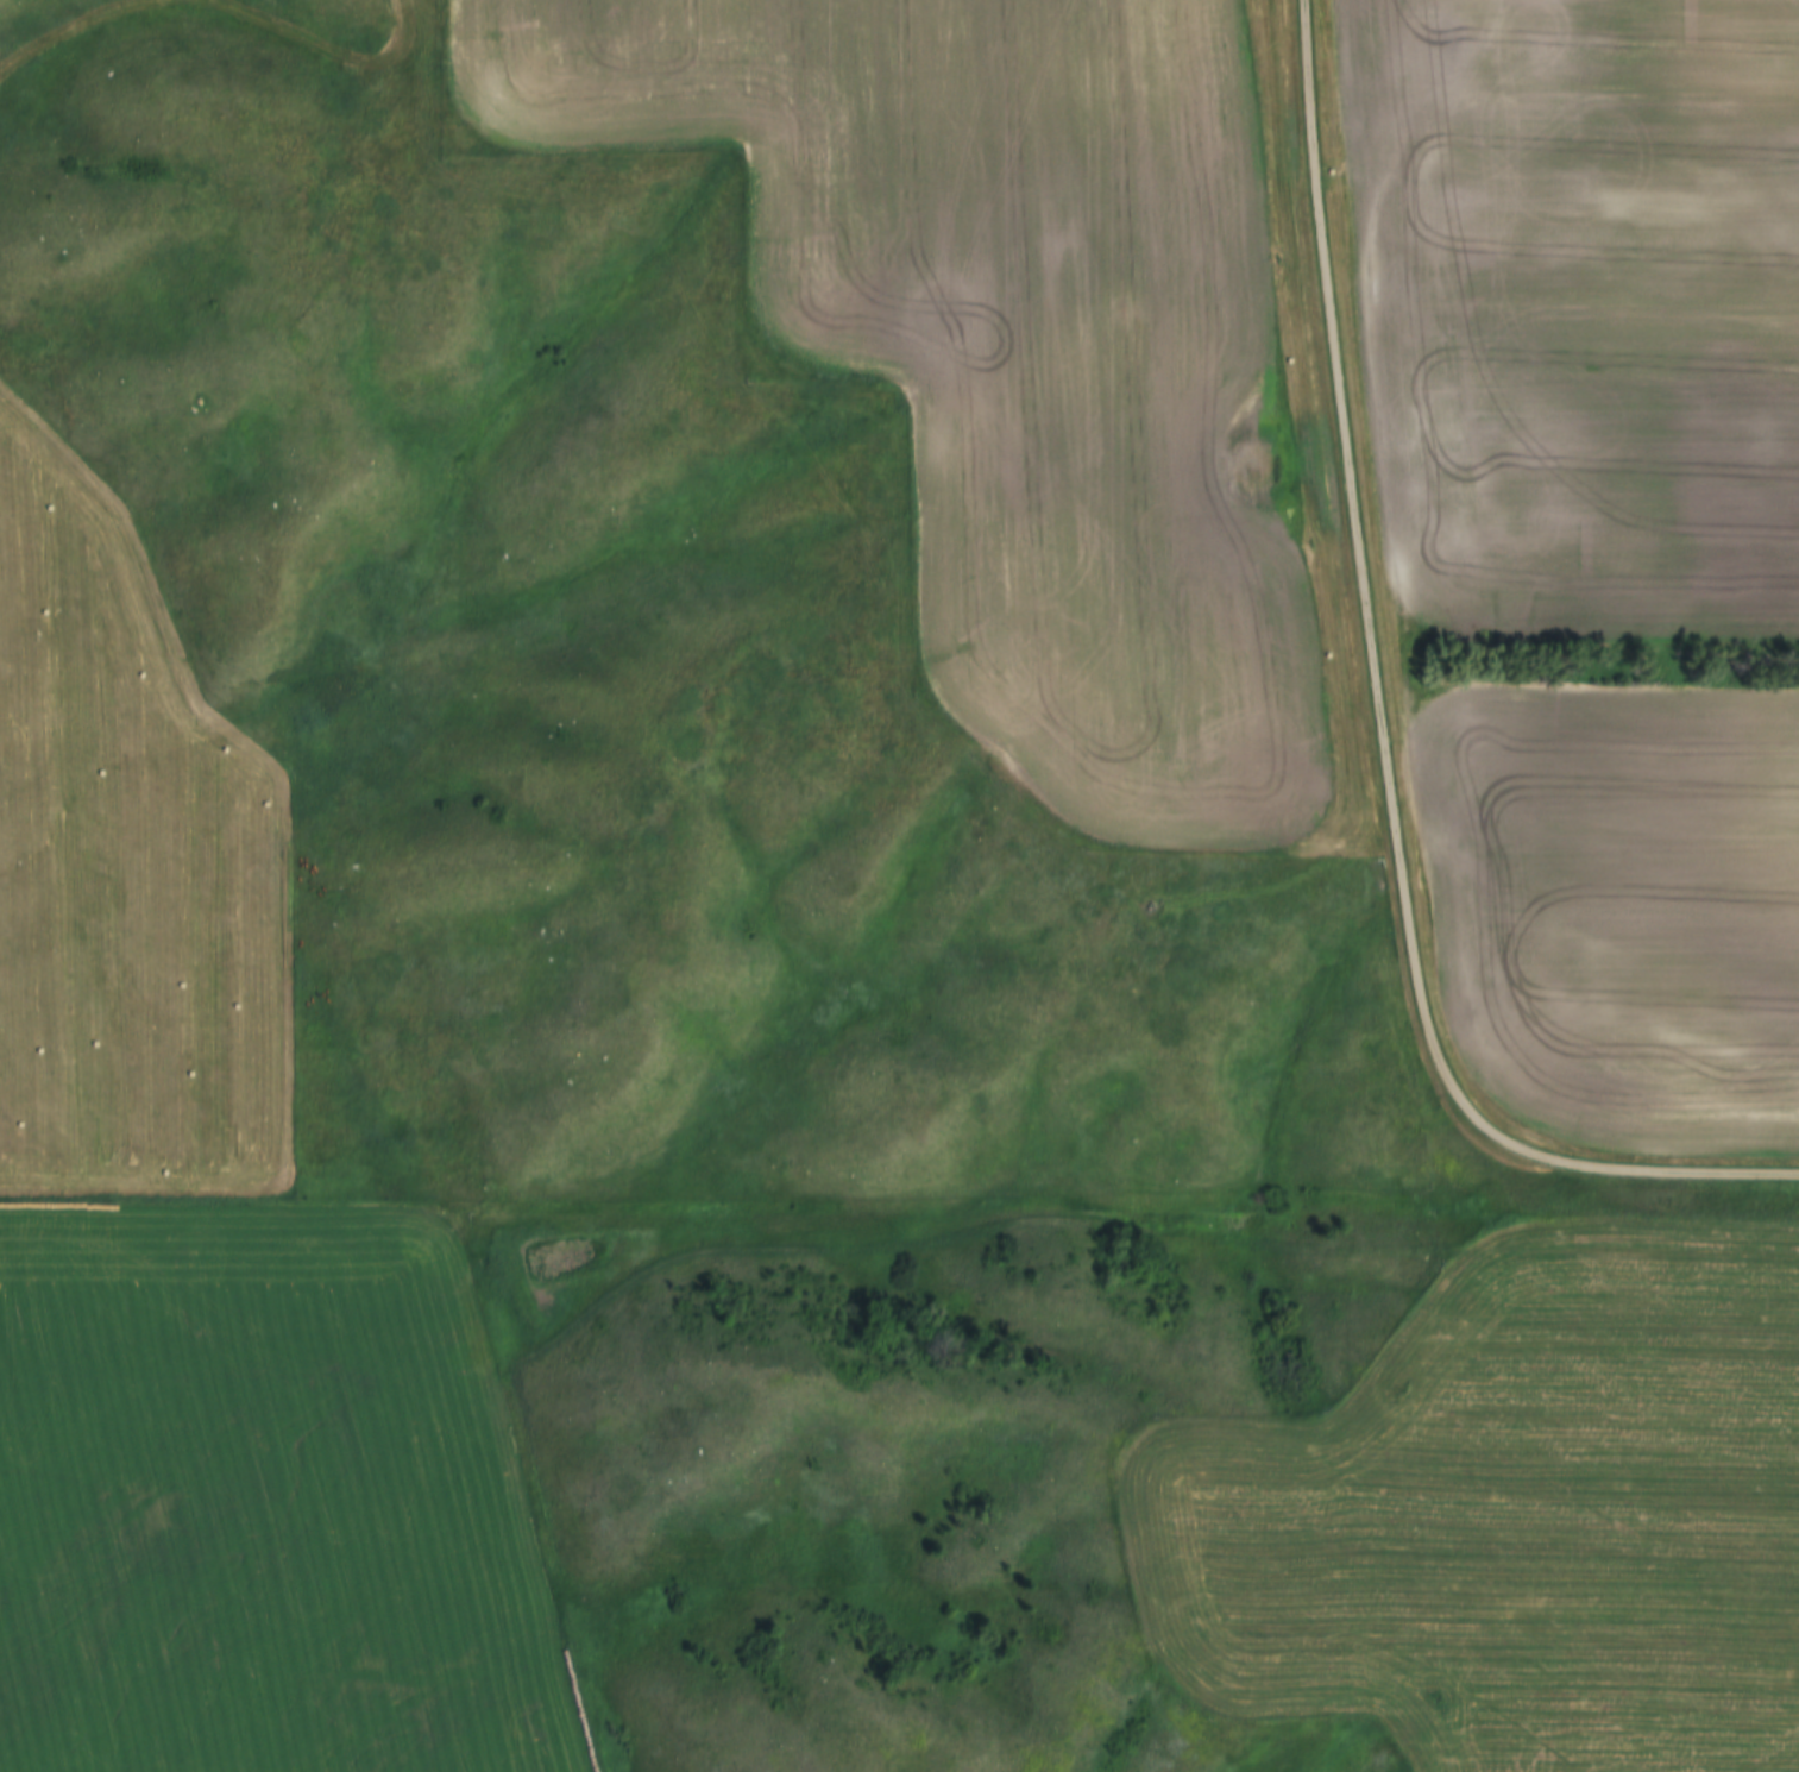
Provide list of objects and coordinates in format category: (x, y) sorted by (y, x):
road: (1384, 730)

